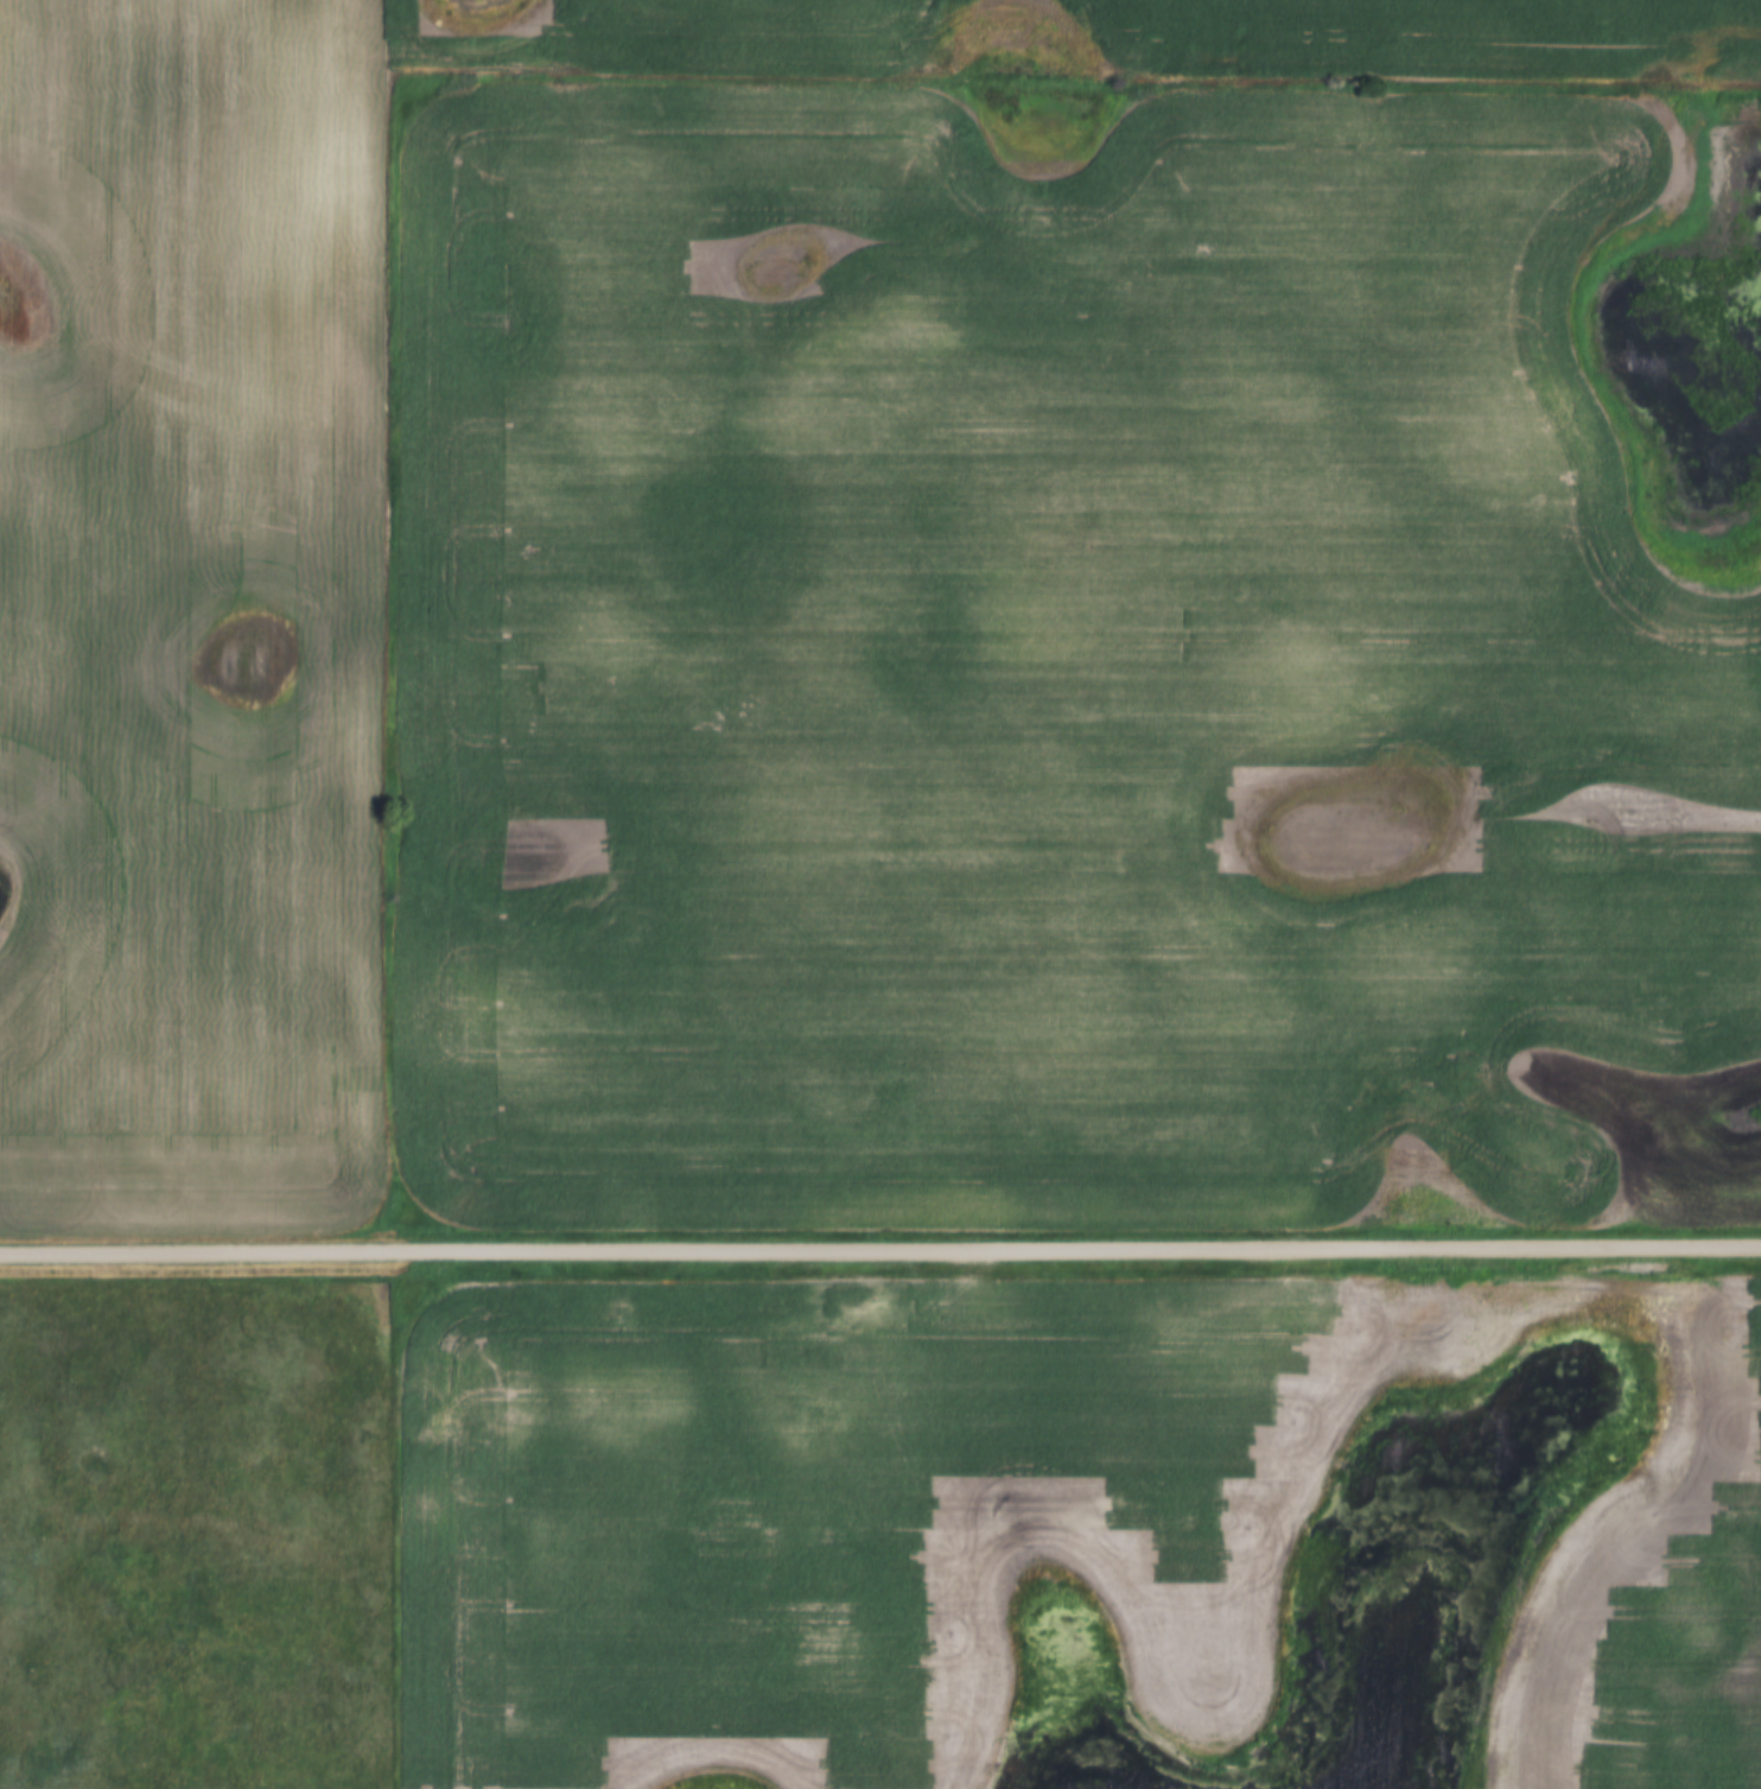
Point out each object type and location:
road: (879, 1252)

